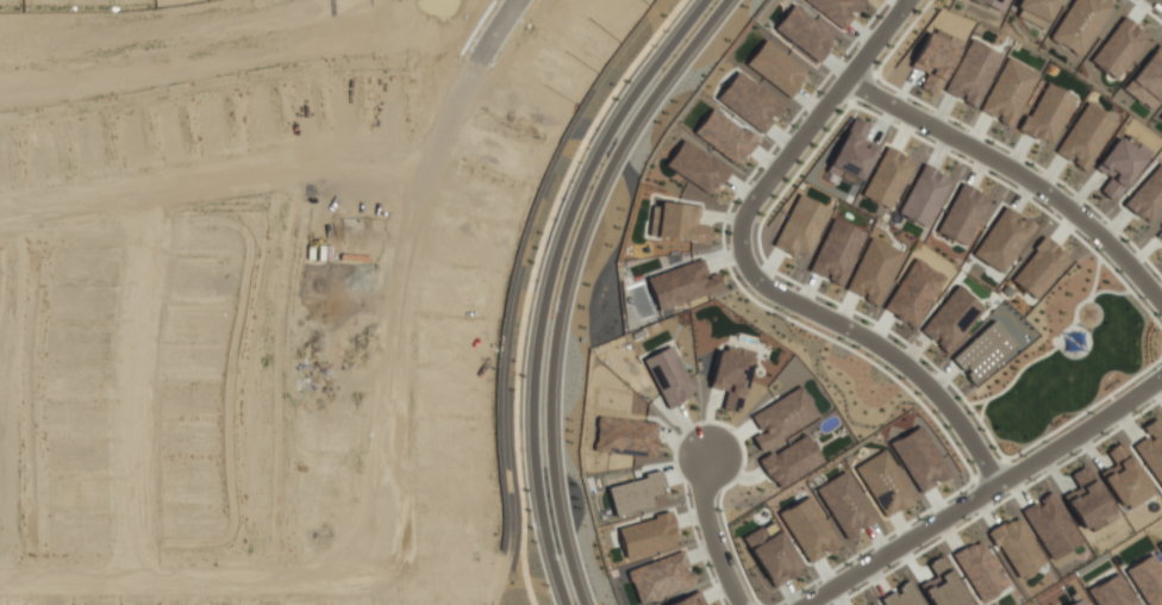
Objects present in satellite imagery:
road: (911, 4)
building: (994, 4)
building: (1036, 11)
building: (1080, 24)
building: (1119, 48)
building: (972, 73)
building: (1148, 80)
building: (1008, 92)
building: (1047, 113)
building: (1161, 116)
road: (805, 133)
building: (1085, 136)
building: (1119, 166)
road: (1019, 173)
building: (888, 177)
road: (219, 182)
building: (924, 195)
building: (1147, 195)
building: (1161, 225)
building: (801, 226)
building: (837, 251)
building: (1041, 268)
building: (874, 270)
road: (420, 273)
road: (568, 281)
road: (543, 282)
building: (682, 283)
building: (913, 293)
building: (983, 351)
park: (1072, 356)
road: (892, 357)
building: (731, 375)
road: (152, 383)
building: (782, 417)
building: (1151, 449)
building: (920, 459)
building: (791, 461)
building: (1124, 478)
building: (885, 484)
road: (980, 491)
building: (1087, 500)
building: (1050, 525)
road: (711, 534)
building: (1017, 547)
building: (980, 569)
road: (193, 578)
building: (942, 586)
building: (901, 595)
building: (688, 600)
building: (871, 604)

